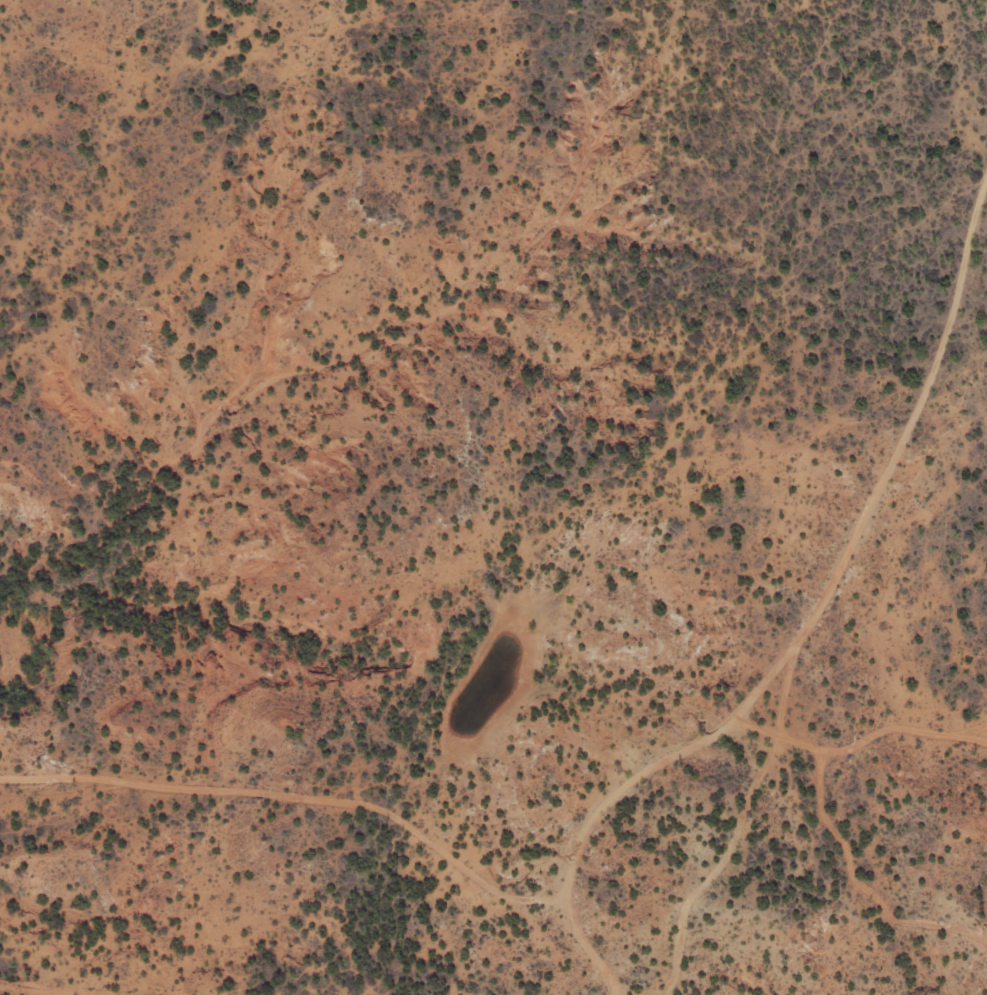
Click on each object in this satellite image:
road: (793, 622)

